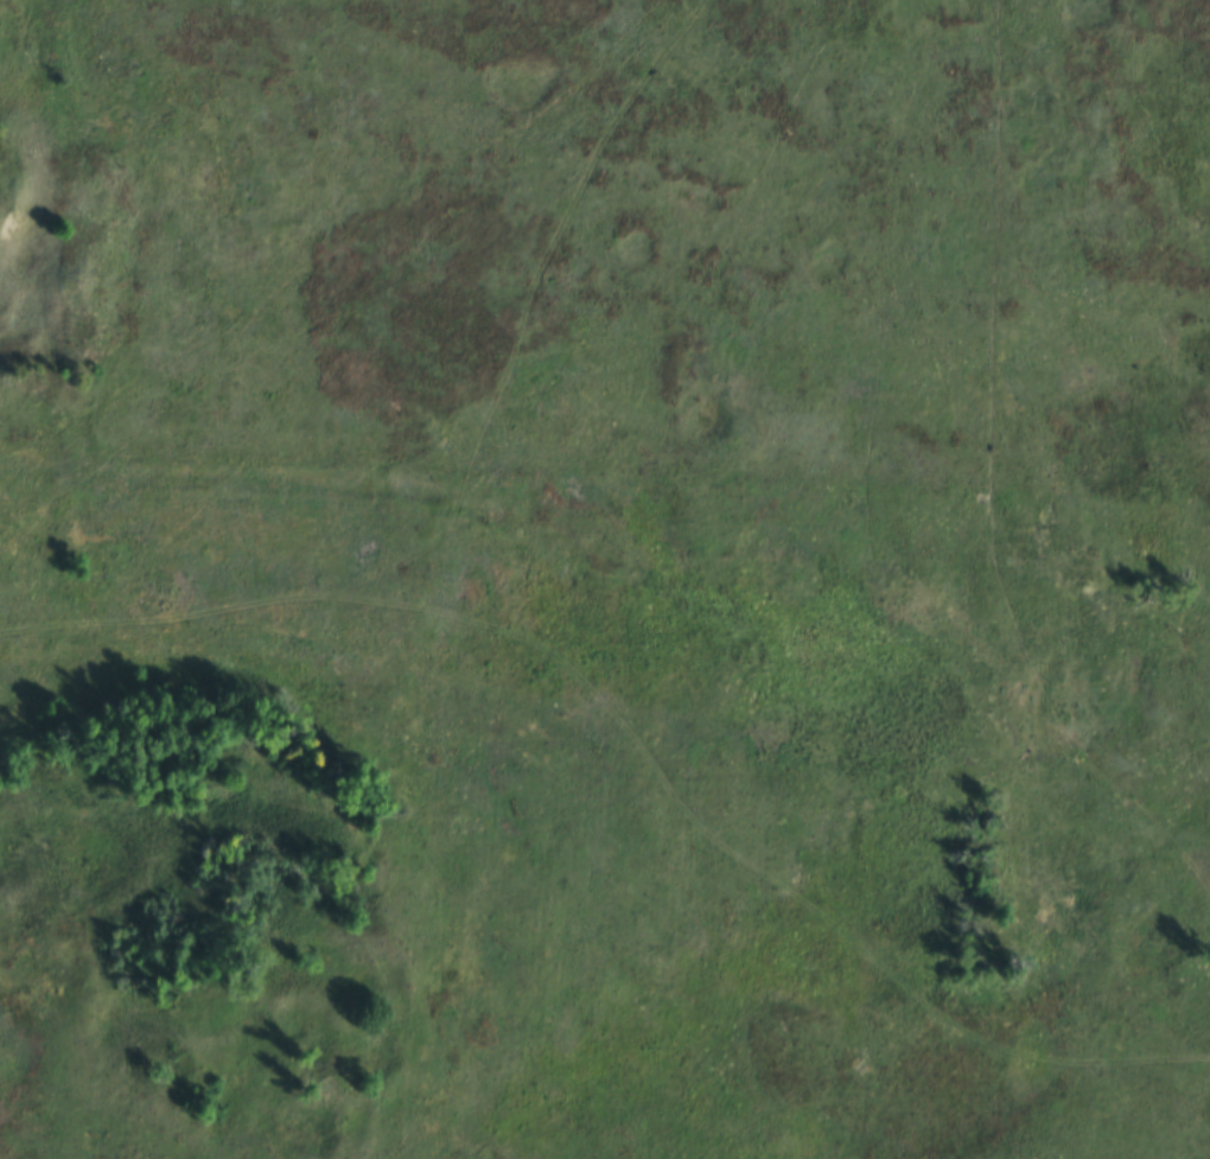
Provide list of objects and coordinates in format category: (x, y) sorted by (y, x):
road: (554, 246)
road: (242, 613)
road: (777, 886)

